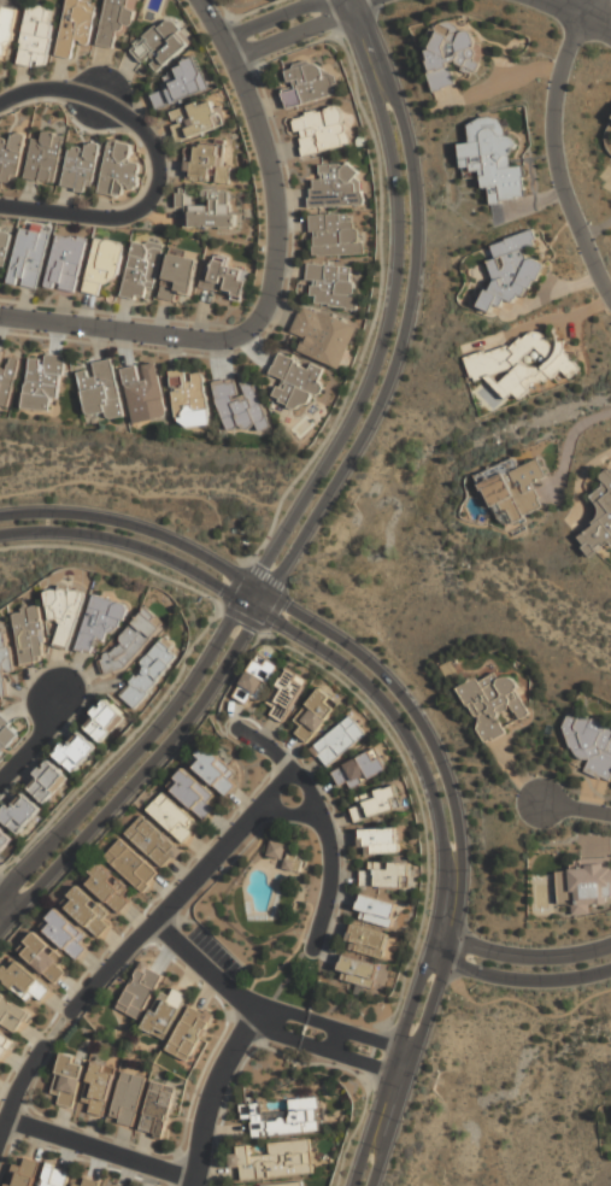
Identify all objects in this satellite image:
road: (544, 0)
road: (594, 10)
road: (584, 17)
road: (269, 19)
building: (116, 23)
building: (77, 25)
road: (305, 30)
building: (5, 33)
building: (36, 35)
building: (161, 43)
road: (365, 46)
building: (451, 53)
building: (181, 83)
building: (307, 83)
road: (117, 111)
building: (198, 119)
building: (322, 130)
building: (11, 157)
building: (45, 157)
road: (557, 159)
building: (490, 160)
road: (272, 163)
building: (206, 164)
building: (82, 165)
building: (119, 169)
building: (336, 186)
building: (208, 210)
road: (70, 211)
building: (334, 236)
building: (4, 245)
building: (29, 257)
building: (66, 264)
building: (104, 265)
building: (516, 268)
building: (141, 270)
building: (178, 275)
building: (224, 277)
building: (331, 286)
road: (378, 293)
road: (121, 328)
building: (322, 336)
road: (377, 354)
road: (395, 356)
building: (523, 363)
building: (7, 376)
building: (43, 381)
building: (295, 382)
building: (100, 389)
building: (143, 392)
building: (189, 398)
building: (239, 404)
building: (515, 489)
building: (599, 521)
road: (140, 527)
road: (135, 545)
road: (246, 563)
building: (65, 612)
building: (101, 621)
building: (29, 634)
building: (131, 642)
road: (188, 651)
building: (4, 660)
building: (149, 673)
building: (255, 681)
building: (286, 694)
building: (490, 704)
building: (313, 715)
building: (104, 721)
road: (425, 732)
building: (7, 734)
road: (409, 738)
road: (29, 739)
building: (339, 740)
building: (591, 745)
road: (136, 750)
building: (75, 751)
road: (143, 770)
building: (360, 770)
building: (215, 771)
building: (47, 781)
building: (193, 795)
building: (375, 803)
road: (574, 804)
building: (18, 812)
road: (288, 815)
building: (172, 817)
road: (322, 823)
building: (4, 840)
building: (153, 841)
building: (378, 841)
building: (277, 850)
building: (131, 865)
building: (384, 874)
road: (428, 882)
building: (584, 885)
building: (107, 887)
road: (182, 893)
road: (7, 905)
building: (376, 910)
building: (87, 911)
building: (66, 934)
building: (366, 941)
road: (521, 956)
building: (45, 958)
road: (204, 968)
building: (358, 971)
building: (23, 980)
road: (517, 980)
building: (140, 991)
road: (521, 1000)
building: (165, 1012)
building: (12, 1014)
road: (280, 1014)
building: (190, 1032)
road: (54, 1033)
road: (272, 1034)
road: (353, 1035)
road: (336, 1043)
building: (5, 1046)
road: (347, 1058)
road: (393, 1059)
road: (403, 1062)
road: (411, 1062)
building: (70, 1080)
road: (17, 1088)
building: (99, 1090)
road: (210, 1094)
building: (128, 1099)
building: (160, 1109)
building: (287, 1117)
road: (98, 1151)
building: (274, 1161)
building: (23, 1172)
building: (55, 1176)
building: (83, 1182)
building: (286, 1184)

